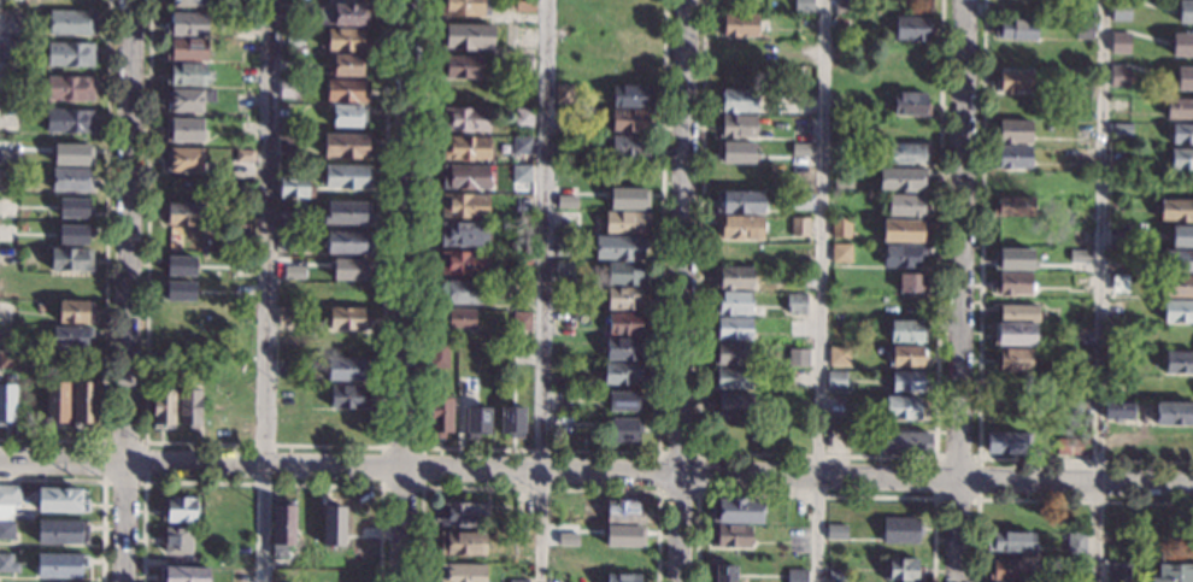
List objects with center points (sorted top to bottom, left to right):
building: (346, 0)
building: (184, 2)
building: (522, 6)
building: (721, 6)
building: (803, 6)
building: (464, 7)
building: (844, 8)
building: (1121, 8)
building: (1183, 10)
building: (342, 14)
building: (868, 14)
building: (248, 22)
building: (71, 23)
building: (842, 23)
building: (187, 24)
building: (737, 24)
building: (35, 25)
building: (912, 29)
building: (1015, 29)
building: (1083, 30)
building: (465, 36)
building: (346, 40)
building: (1121, 41)
building: (1181, 43)
building: (8, 49)
building: (187, 49)
building: (70, 54)
building: (346, 66)
building: (458, 66)
building: (522, 67)
building: (188, 75)
building: (1119, 75)
building: (1183, 76)
building: (1012, 81)
building: (8, 83)
building: (67, 88)
building: (288, 88)
building: (345, 92)
building: (564, 93)
building: (631, 95)
building: (187, 99)
building: (735, 101)
building: (909, 105)
building: (1179, 108)
building: (347, 117)
building: (523, 118)
building: (465, 120)
building: (629, 120)
building: (69, 122)
building: (735, 127)
building: (183, 130)
building: (1121, 130)
building: (1012, 131)
building: (1181, 134)
building: (286, 143)
building: (521, 145)
building: (346, 146)
building: (628, 146)
building: (465, 148)
building: (801, 148)
building: (742, 152)
building: (70, 154)
building: (906, 154)
building: (10, 155)
building: (243, 155)
building: (1011, 155)
building: (1180, 159)
building: (183, 160)
building: (522, 172)
building: (347, 176)
building: (464, 177)
building: (71, 180)
building: (842, 180)
building: (901, 180)
building: (294, 187)
building: (628, 196)
building: (566, 200)
building: (799, 201)
building: (739, 202)
building: (464, 205)
building: (1013, 205)
building: (905, 206)
building: (74, 207)
building: (1175, 211)
building: (347, 213)
building: (182, 214)
building: (290, 219)
building: (624, 223)
building: (20, 227)
building: (739, 227)
building: (799, 228)
building: (840, 228)
building: (904, 231)
building: (74, 234)
building: (463, 234)
building: (1117, 235)
building: (1182, 235)
building: (289, 241)
building: (228, 242)
building: (347, 242)
building: (564, 246)
building: (619, 248)
building: (841, 253)
building: (1079, 254)
building: (901, 255)
building: (1012, 258)
building: (70, 259)
building: (521, 260)
building: (1177, 260)
building: (177, 264)
building: (463, 264)
building: (287, 265)
building: (346, 268)
road: (106, 271)
building: (563, 271)
building: (625, 274)
building: (731, 278)
building: (911, 283)
building: (1013, 283)
building: (1118, 284)
building: (1177, 286)
building: (522, 288)
road: (128, 290)
building: (177, 290)
road: (266, 290)
road: (405, 290)
road: (541, 290)
road: (683, 290)
road: (821, 290)
road: (964, 290)
road: (1099, 290)
building: (463, 293)
building: (623, 299)
building: (733, 304)
building: (795, 304)
building: (1177, 311)
building: (75, 313)
building: (1019, 313)
building: (286, 316)
building: (347, 319)
building: (457, 319)
building: (521, 321)
building: (624, 324)
building: (797, 328)
building: (731, 329)
building: (907, 333)
building: (1013, 334)
road: (980, 335)
building: (70, 336)
building: (623, 349)
building: (731, 354)
building: (439, 355)
building: (839, 355)
building: (906, 357)
building: (1077, 357)
building: (1013, 359)
building: (12, 361)
building: (1179, 363)
building: (346, 369)
building: (621, 374)
building: (731, 378)
building: (799, 378)
building: (836, 381)
building: (905, 382)
building: (347, 396)
building: (624, 400)
building: (82, 404)
building: (55, 405)
building: (733, 405)
building: (6, 406)
building: (189, 407)
building: (163, 408)
building: (903, 408)
building: (1118, 410)
building: (1174, 413)
building: (440, 417)
building: (512, 419)
building: (476, 421)
building: (624, 429)
road: (145, 440)
road: (265, 441)
building: (905, 442)
building: (1006, 442)
road: (419, 445)
building: (1071, 446)
road: (542, 447)
road: (697, 452)
road: (818, 453)
road: (935, 457)
road: (596, 471)
road: (102, 478)
road: (261, 481)
road: (536, 486)
road: (812, 493)
road: (1044, 499)
building: (7, 500)
building: (60, 500)
building: (177, 510)
building: (736, 510)
building: (624, 512)
building: (463, 515)
building: (334, 524)
building: (282, 527)
building: (6, 530)
building: (899, 530)
building: (61, 533)
building: (835, 533)
building: (568, 536)
building: (624, 536)
building: (730, 536)
building: (177, 541)
building: (1010, 542)
building: (462, 543)
building: (1075, 545)
building: (7, 564)
building: (60, 565)
building: (722, 570)
building: (903, 570)
building: (1007, 570)
building: (460, 572)
building: (1117, 572)
building: (1174, 572)
building: (182, 575)
building: (795, 575)
building: (836, 576)
building: (622, 578)
building: (70, 581)
building: (517, 581)
building: (1003, 581)

